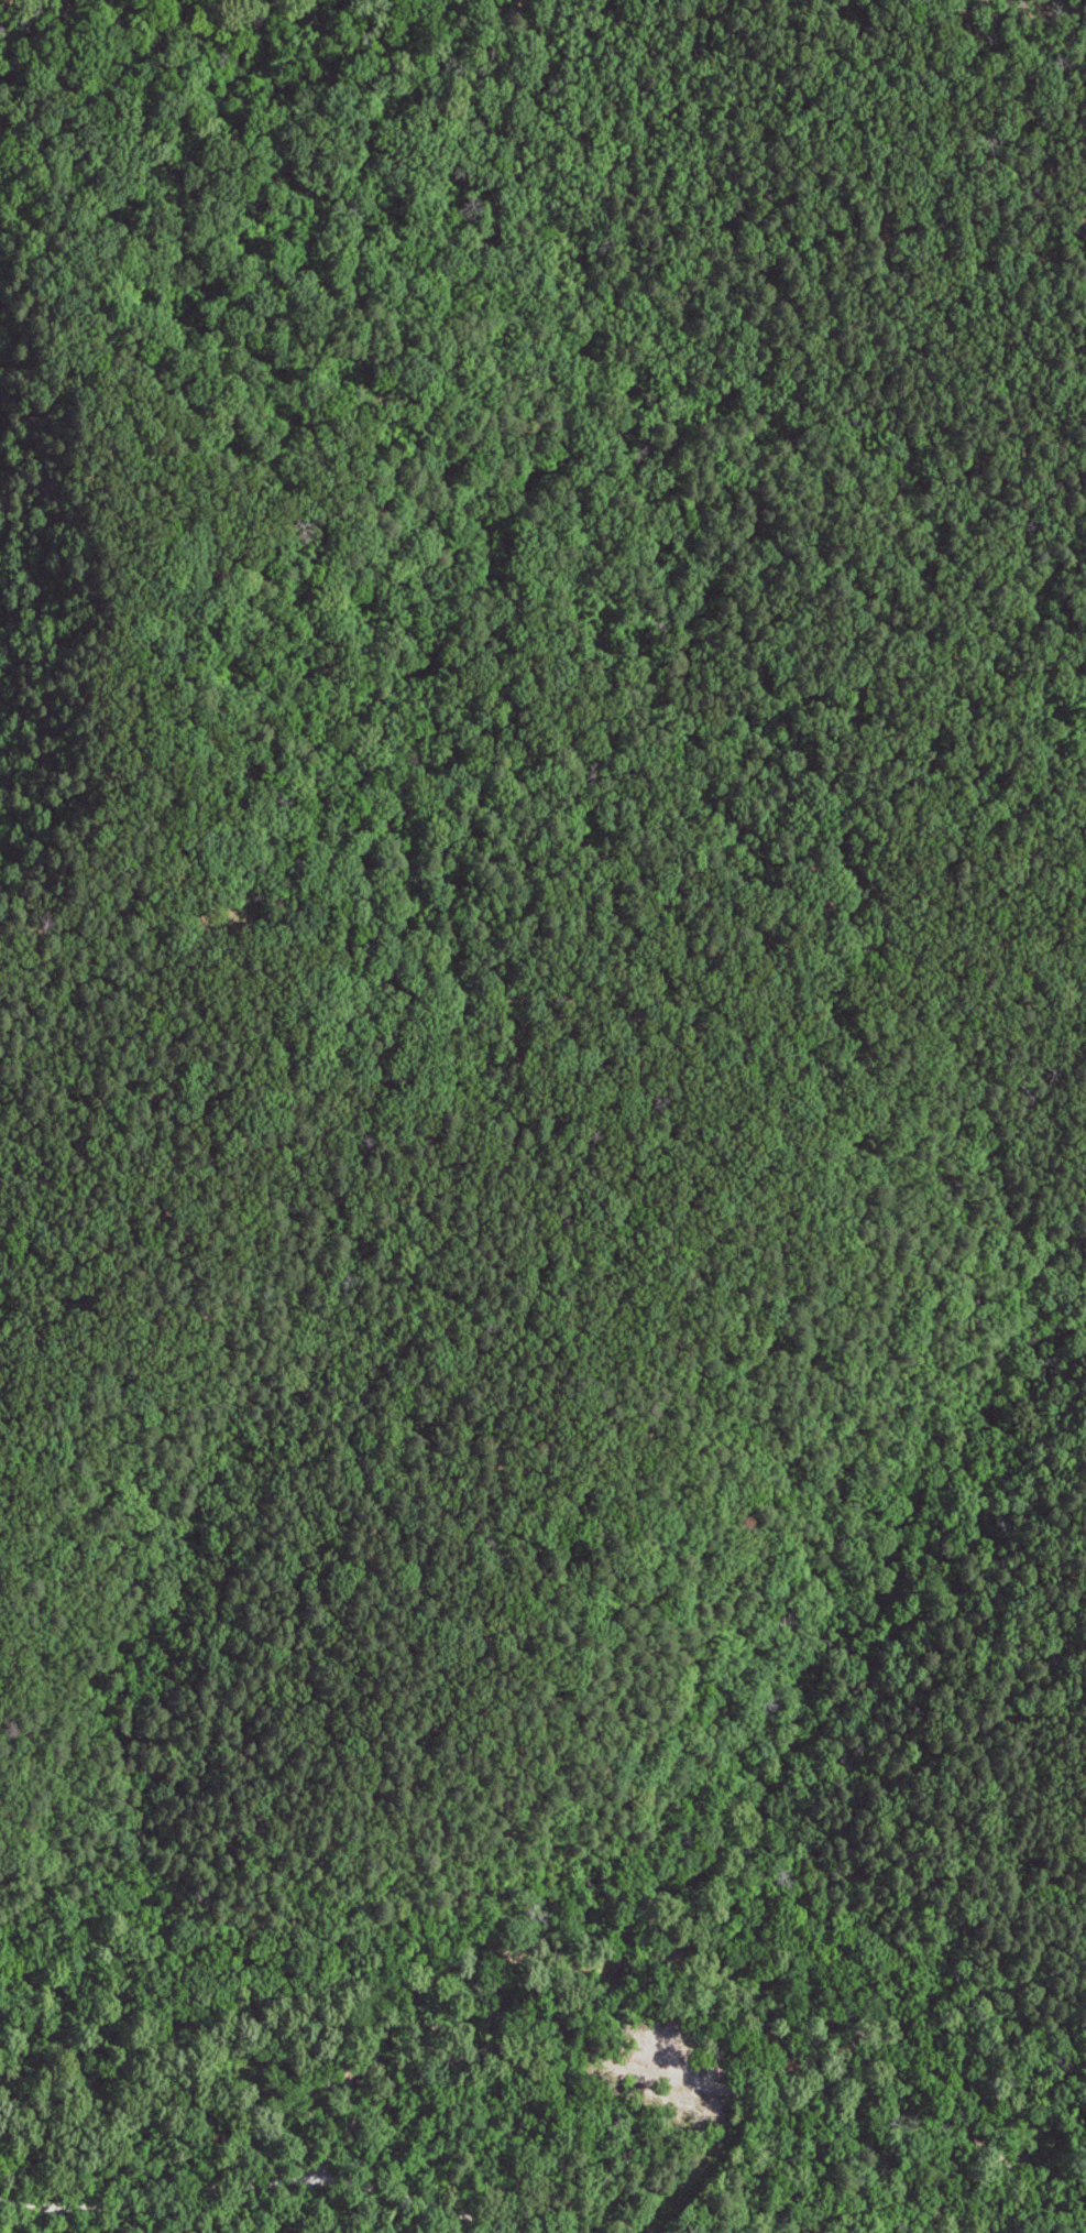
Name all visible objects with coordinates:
road: (339, 2183)
road: (76, 2205)

